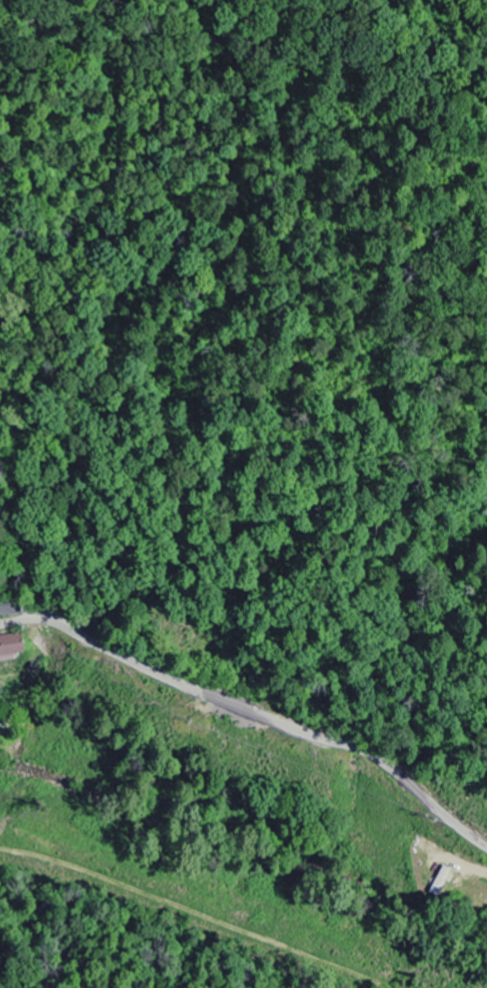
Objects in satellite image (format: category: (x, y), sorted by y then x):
building: (9, 648)
road: (253, 711)
building: (440, 882)

